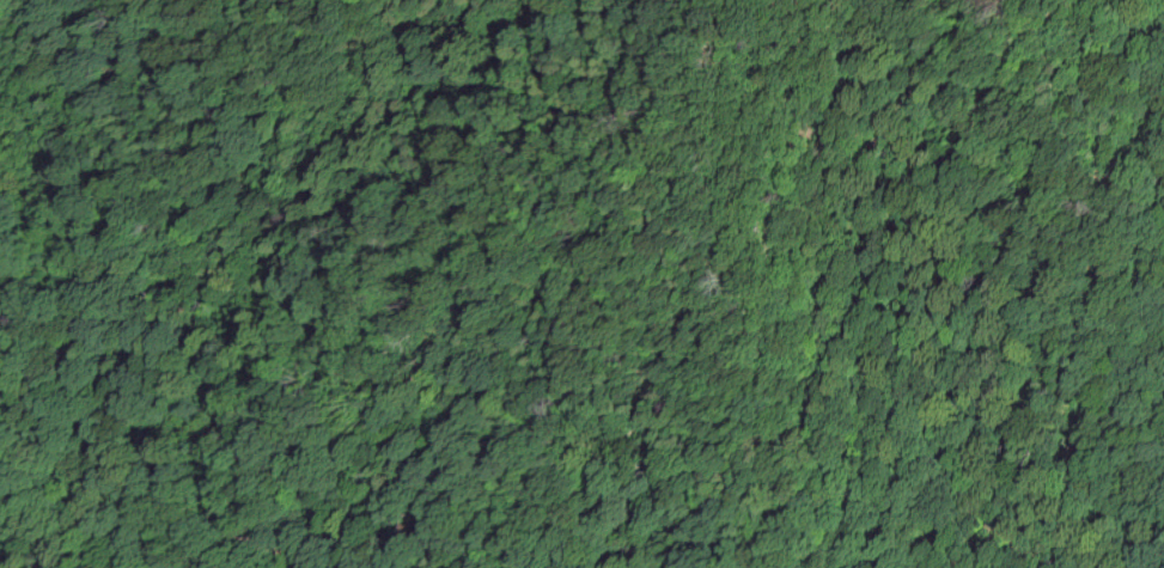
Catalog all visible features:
road: (428, 60)
road: (963, 86)
road: (379, 323)

